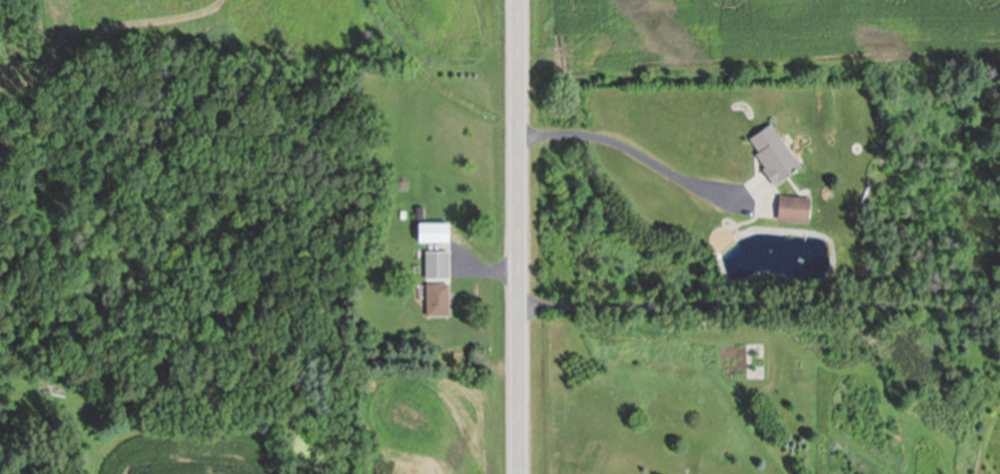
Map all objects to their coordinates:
road: (623, 143)
building: (774, 157)
building: (794, 211)
building: (420, 214)
building: (434, 236)
road: (520, 236)
building: (437, 266)
building: (438, 301)
road: (760, 301)
building: (672, 420)

